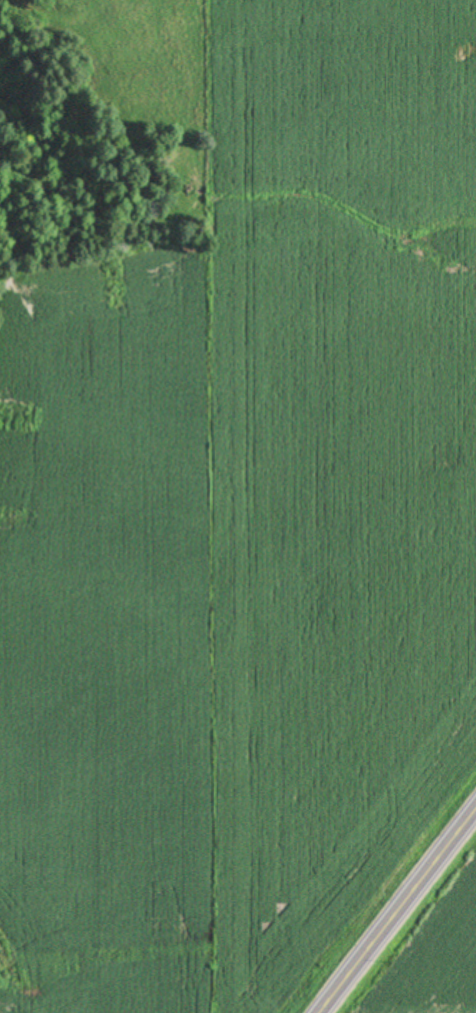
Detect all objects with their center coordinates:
road: (394, 905)

